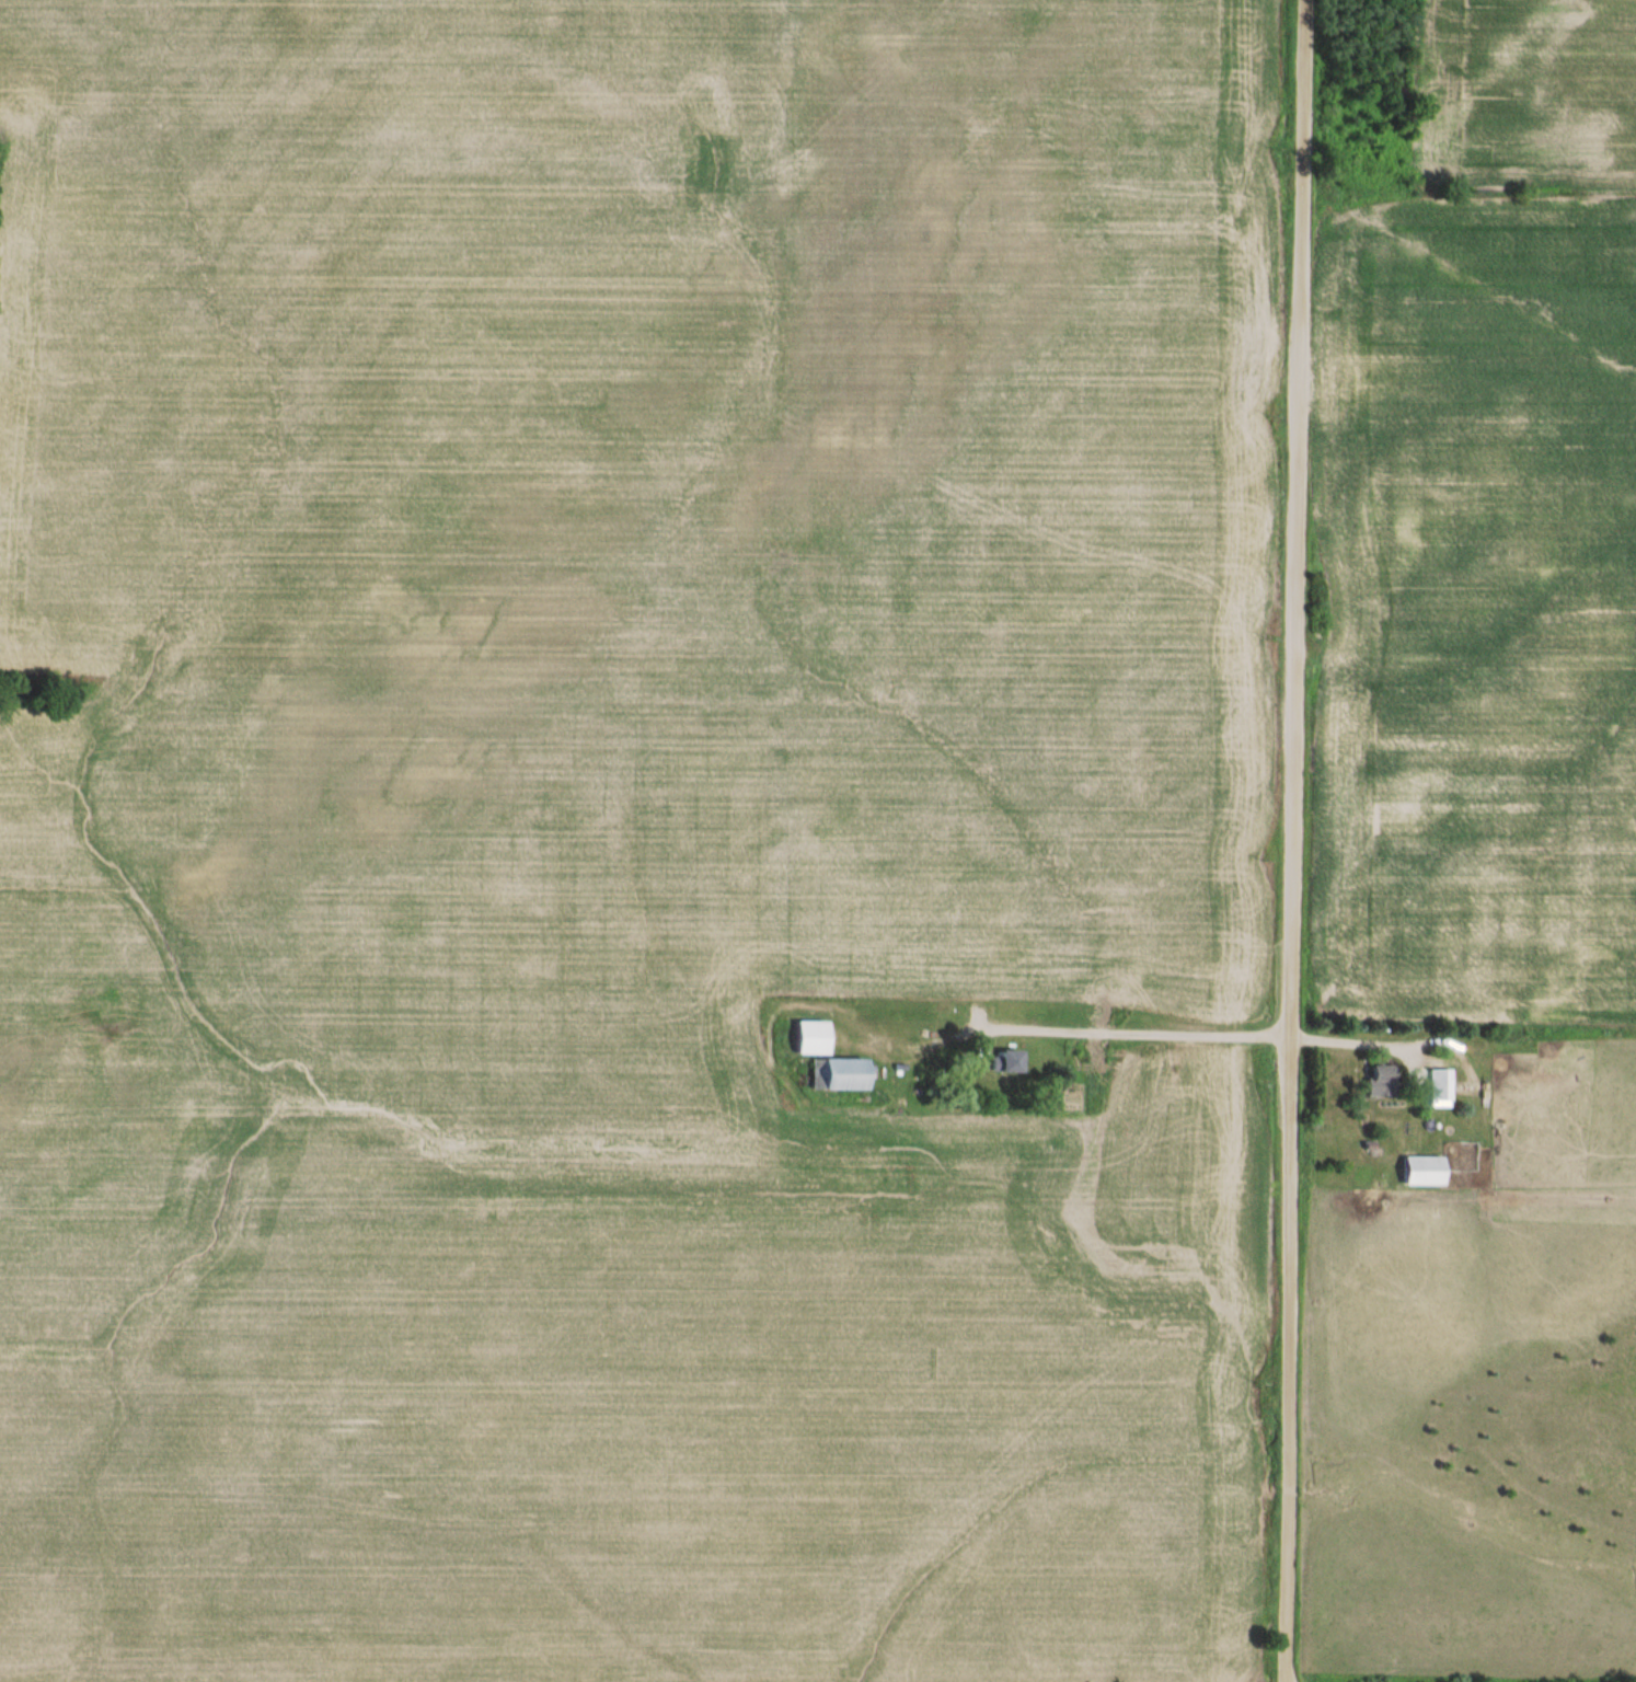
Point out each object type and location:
road: (1292, 840)
road: (1138, 1030)
building: (811, 1037)
road: (1355, 1044)
building: (1009, 1062)
building: (839, 1074)
building: (1381, 1082)
building: (1440, 1086)
building: (1422, 1172)

